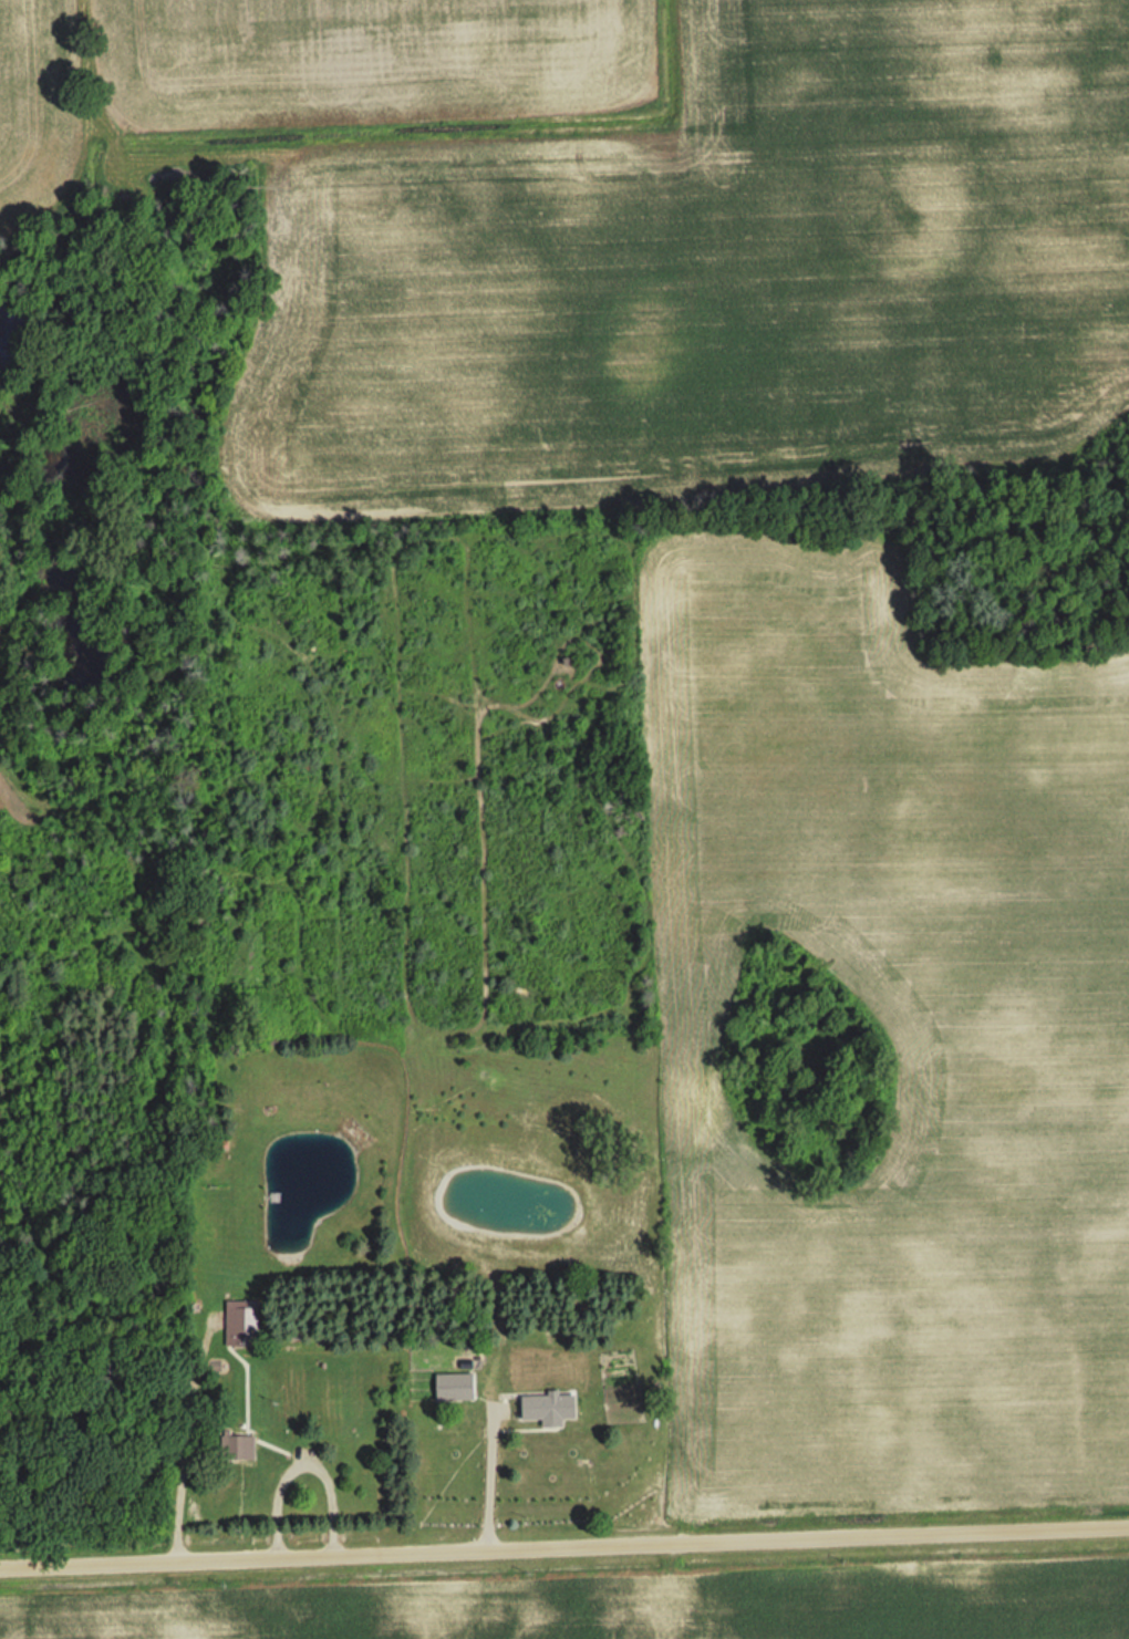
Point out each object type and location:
building: (246, 1322)
building: (459, 1387)
building: (553, 1407)
building: (238, 1444)
road: (564, 1545)

